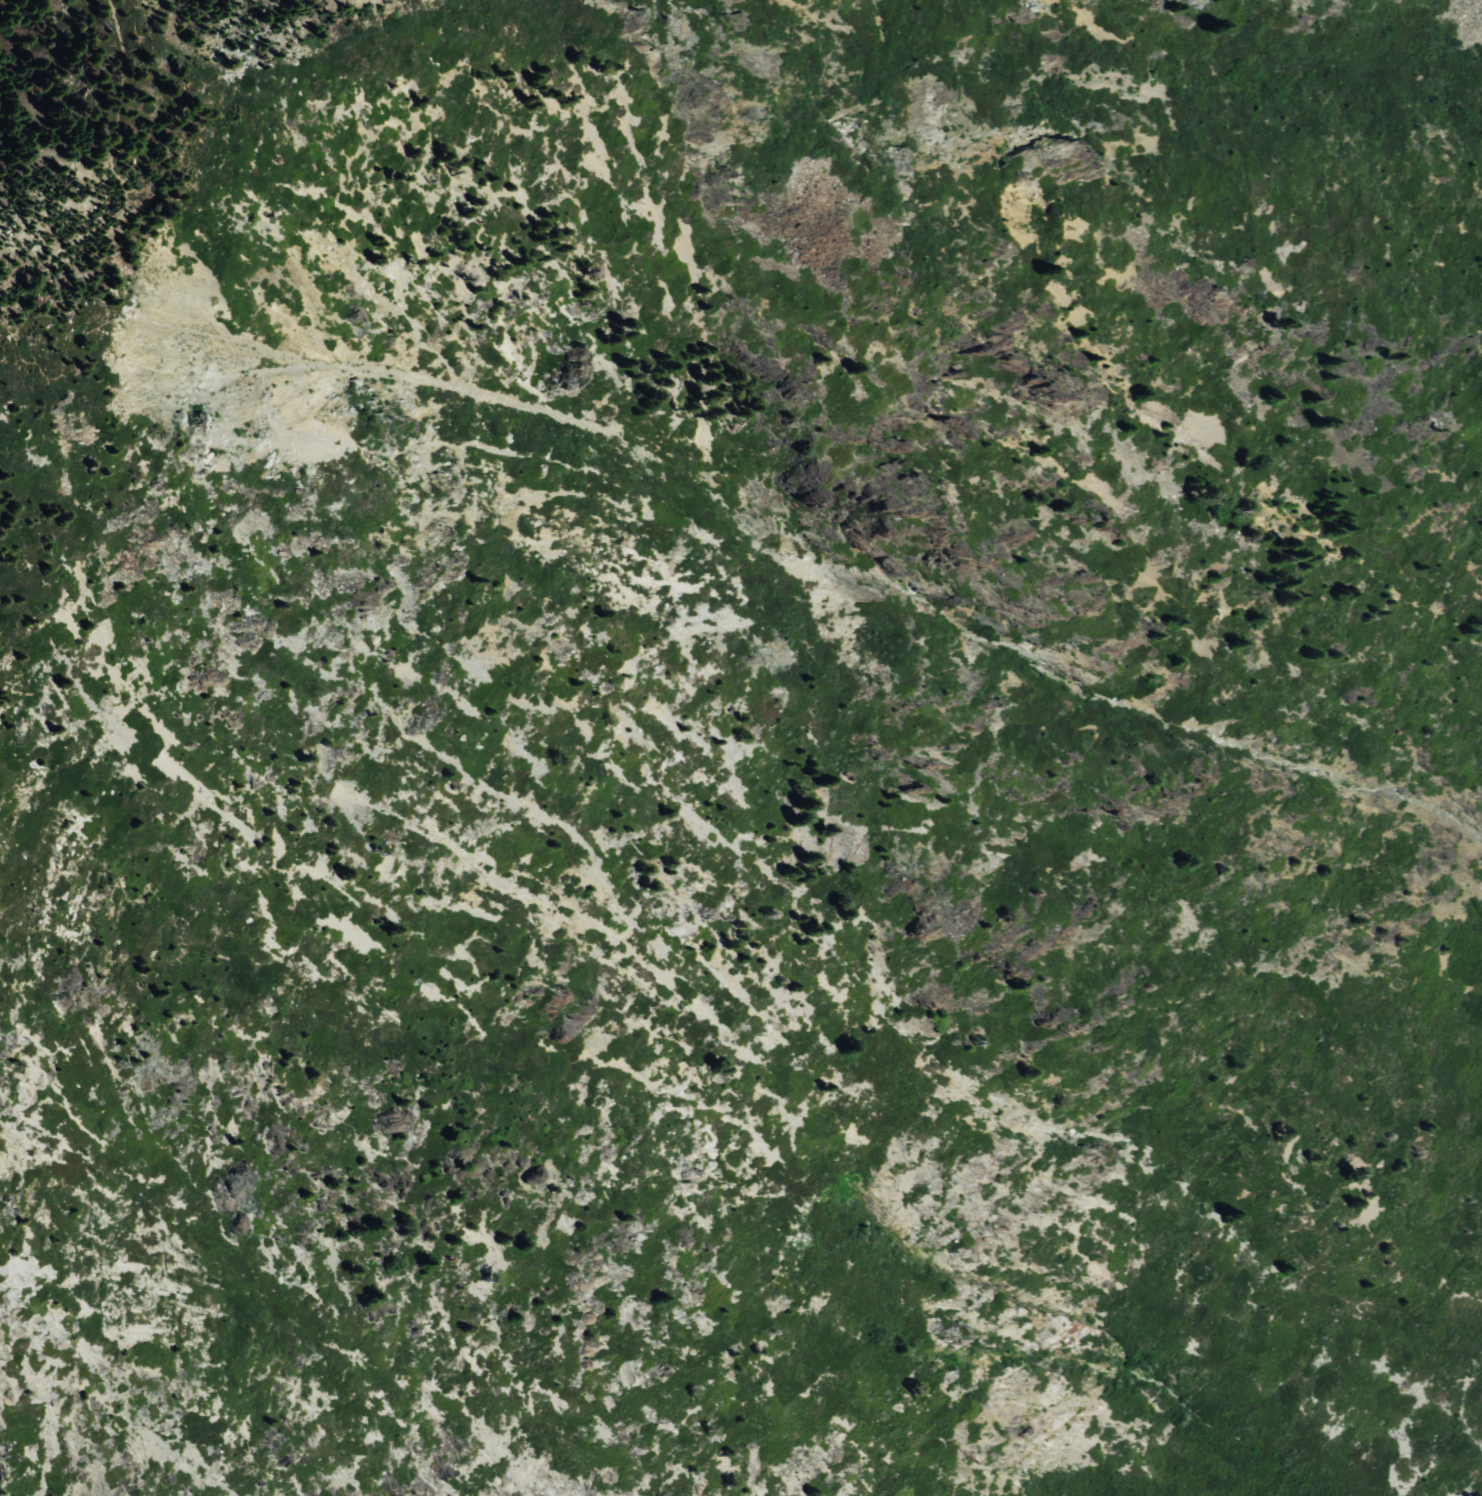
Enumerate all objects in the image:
road: (110, 136)

